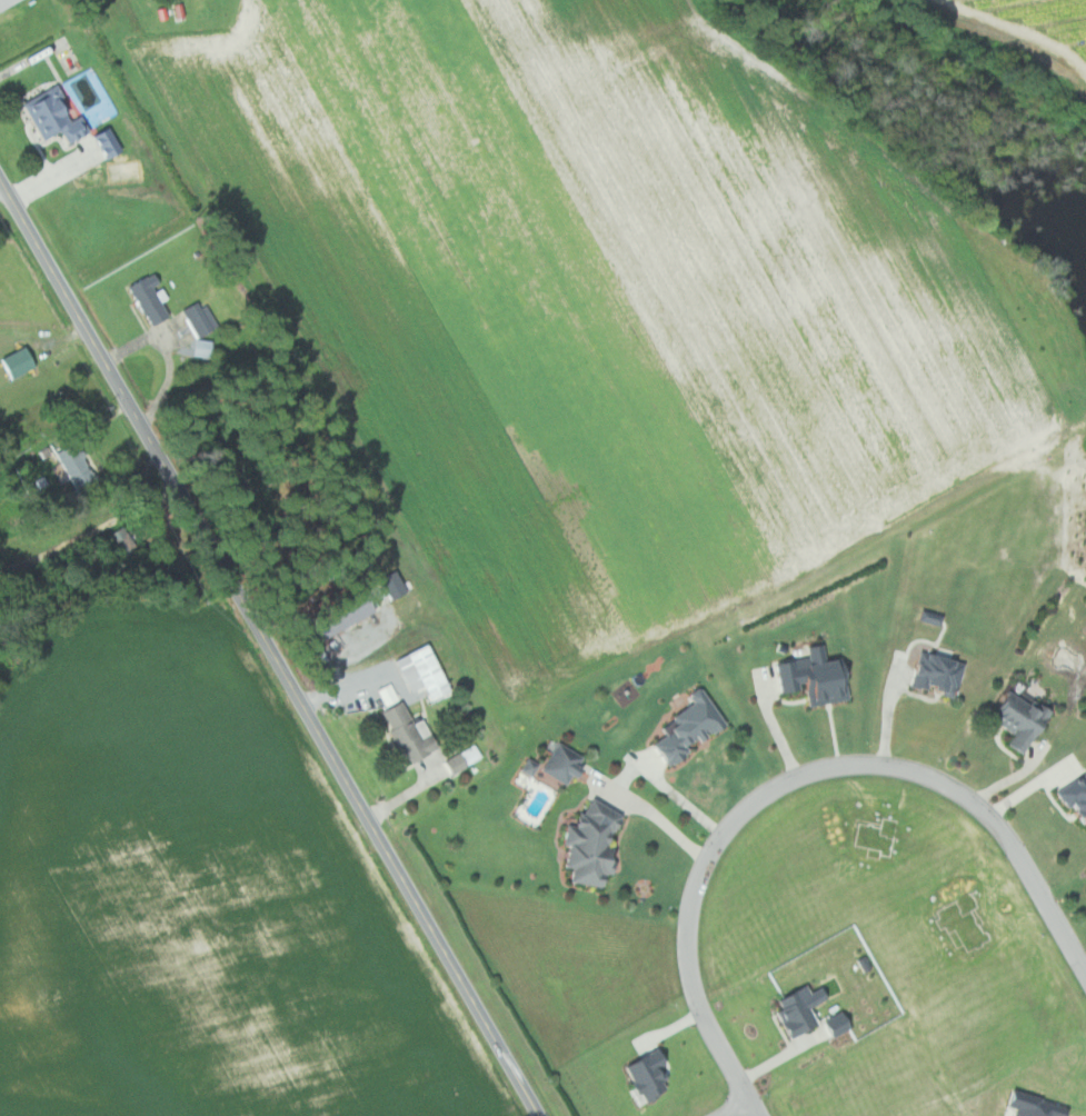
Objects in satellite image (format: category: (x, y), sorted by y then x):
building: (7, 3)
building: (178, 10)
road: (41, 52)
building: (53, 114)
road: (2, 190)
building: (151, 299)
building: (200, 322)
building: (199, 348)
road: (168, 352)
building: (19, 363)
building: (70, 465)
road: (89, 531)
building: (335, 617)
road: (268, 648)
building: (424, 672)
building: (934, 675)
building: (809, 680)
building: (387, 694)
building: (1015, 719)
building: (681, 728)
building: (410, 734)
building: (460, 759)
building: (564, 767)
road: (793, 778)
building: (1074, 798)
building: (596, 845)
building: (793, 1012)
building: (831, 1024)
building: (641, 1074)
road: (737, 1108)

